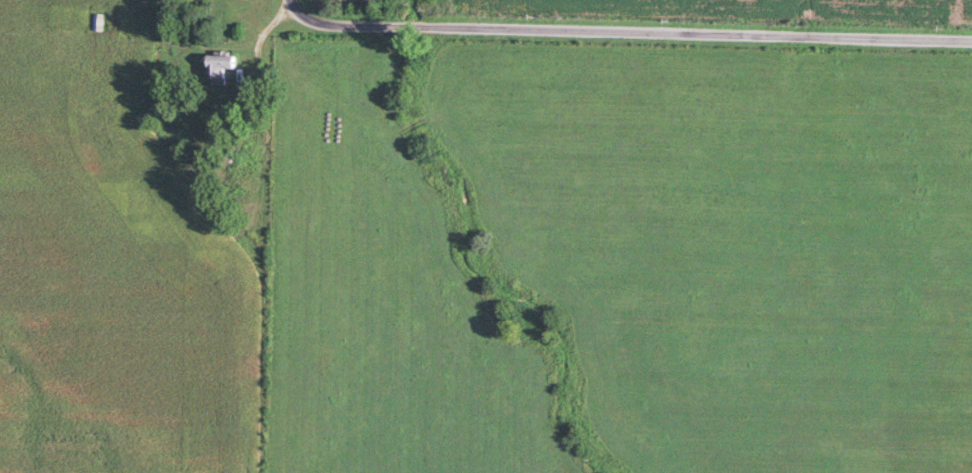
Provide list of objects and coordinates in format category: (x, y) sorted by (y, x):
building: (126, 25)
road: (626, 32)
building: (219, 64)
building: (123, 84)

